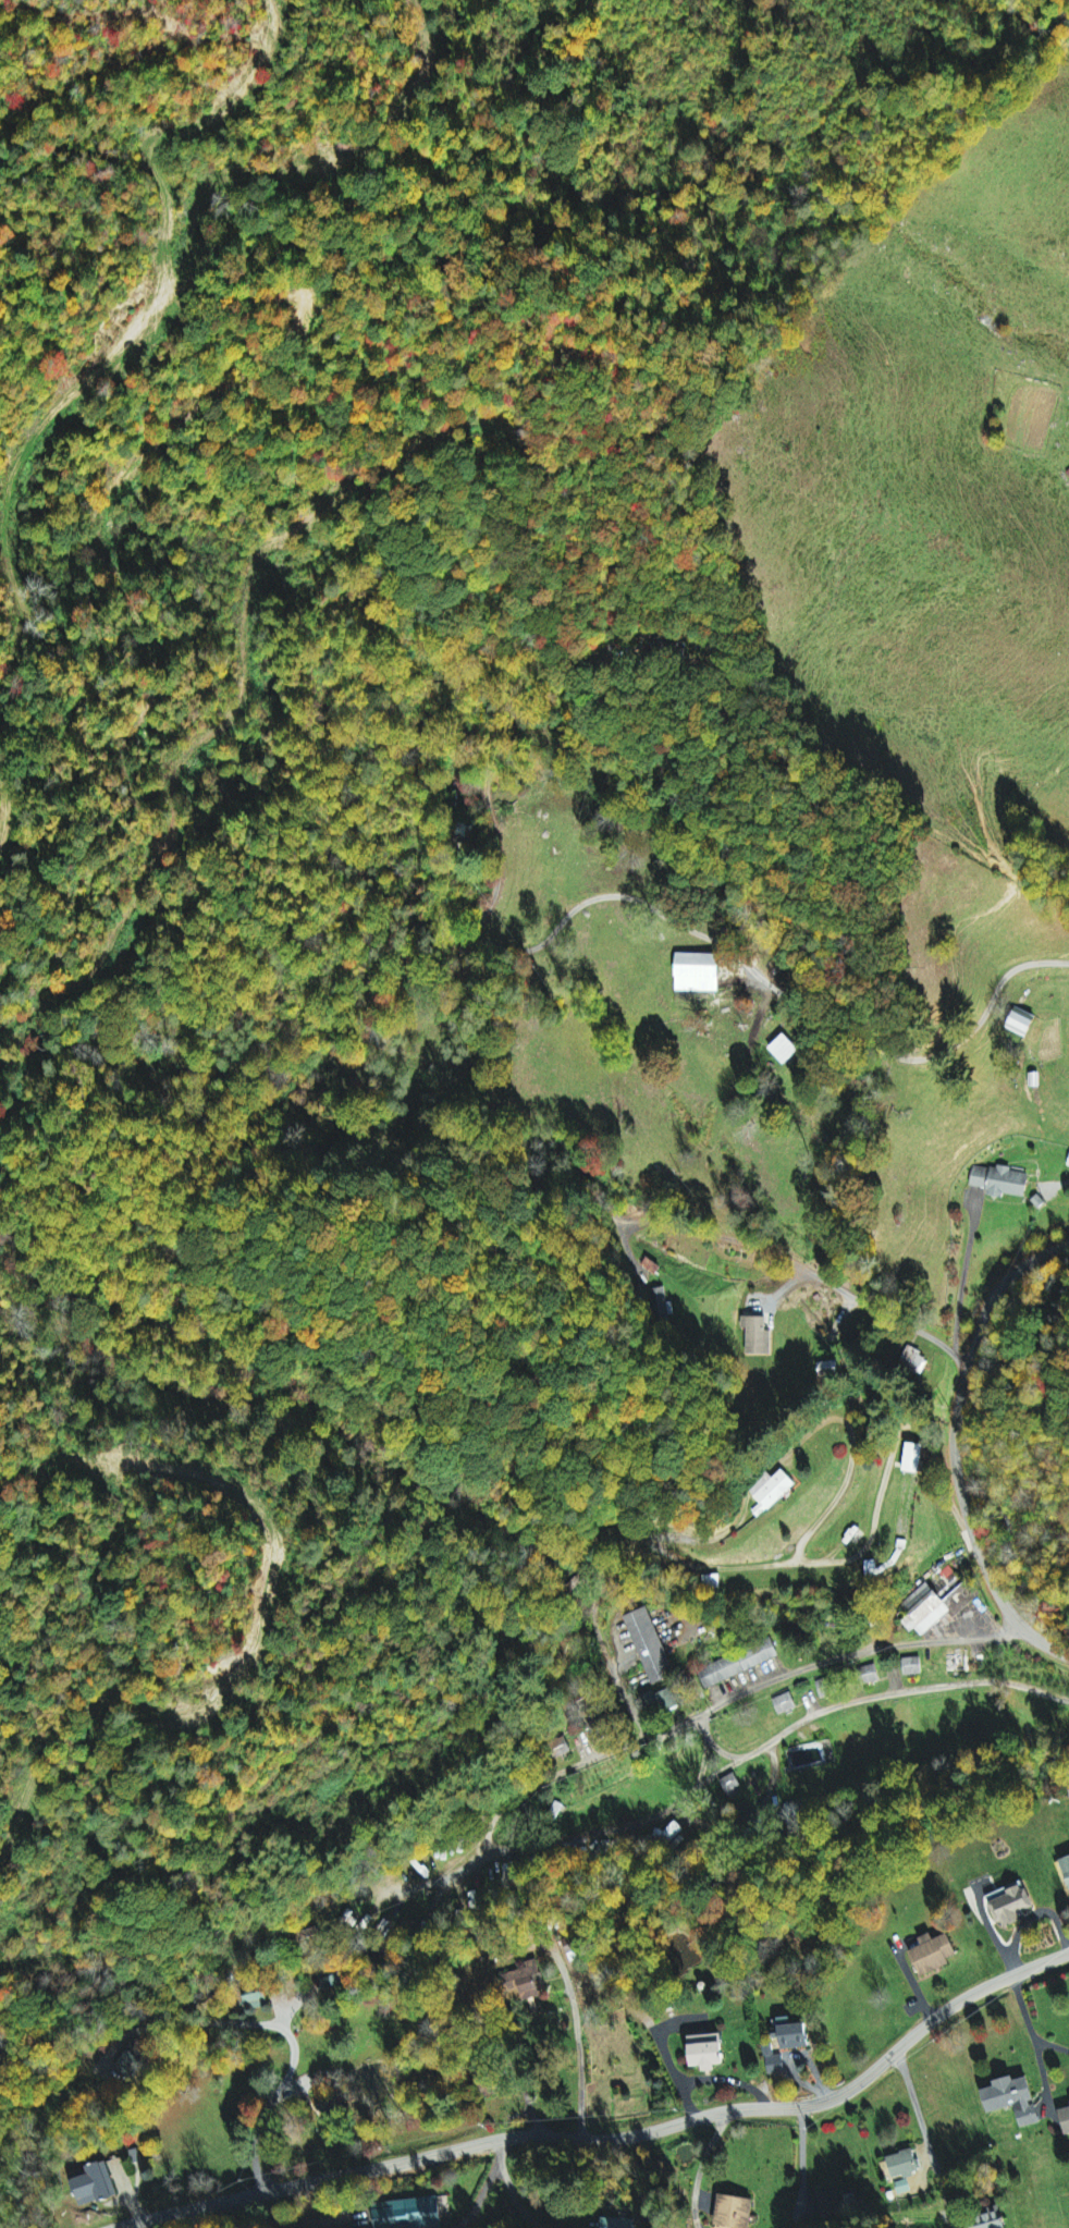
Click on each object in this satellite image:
road: (499, 672)
road: (706, 935)
building: (698, 974)
building: (1021, 1023)
building: (1068, 1166)
building: (1000, 1183)
road: (779, 1268)
building: (662, 1305)
building: (757, 1336)
building: (914, 1361)
road: (949, 1452)
building: (913, 1458)
building: (771, 1492)
building: (935, 1607)
building: (650, 1646)
building: (738, 1664)
building: (957, 1664)
building: (912, 1666)
building: (869, 1675)
building: (825, 1688)
building: (662, 1702)
building: (785, 1703)
building: (732, 1786)
building: (1066, 1868)
road: (270, 1870)
building: (1010, 1905)
road: (1031, 1915)
building: (932, 1954)
building: (524, 1981)
building: (255, 2000)
road: (281, 2035)
road: (579, 2043)
road: (1052, 2043)
road: (1035, 2044)
building: (705, 2052)
building: (775, 2065)
road: (714, 2080)
building: (1012, 2100)
road: (616, 2137)
building: (902, 2165)
road: (930, 2169)
road: (650, 2180)
building: (94, 2186)
building: (902, 2187)
road: (520, 2206)
building: (407, 2214)
building: (991, 2219)
road: (278, 2221)

